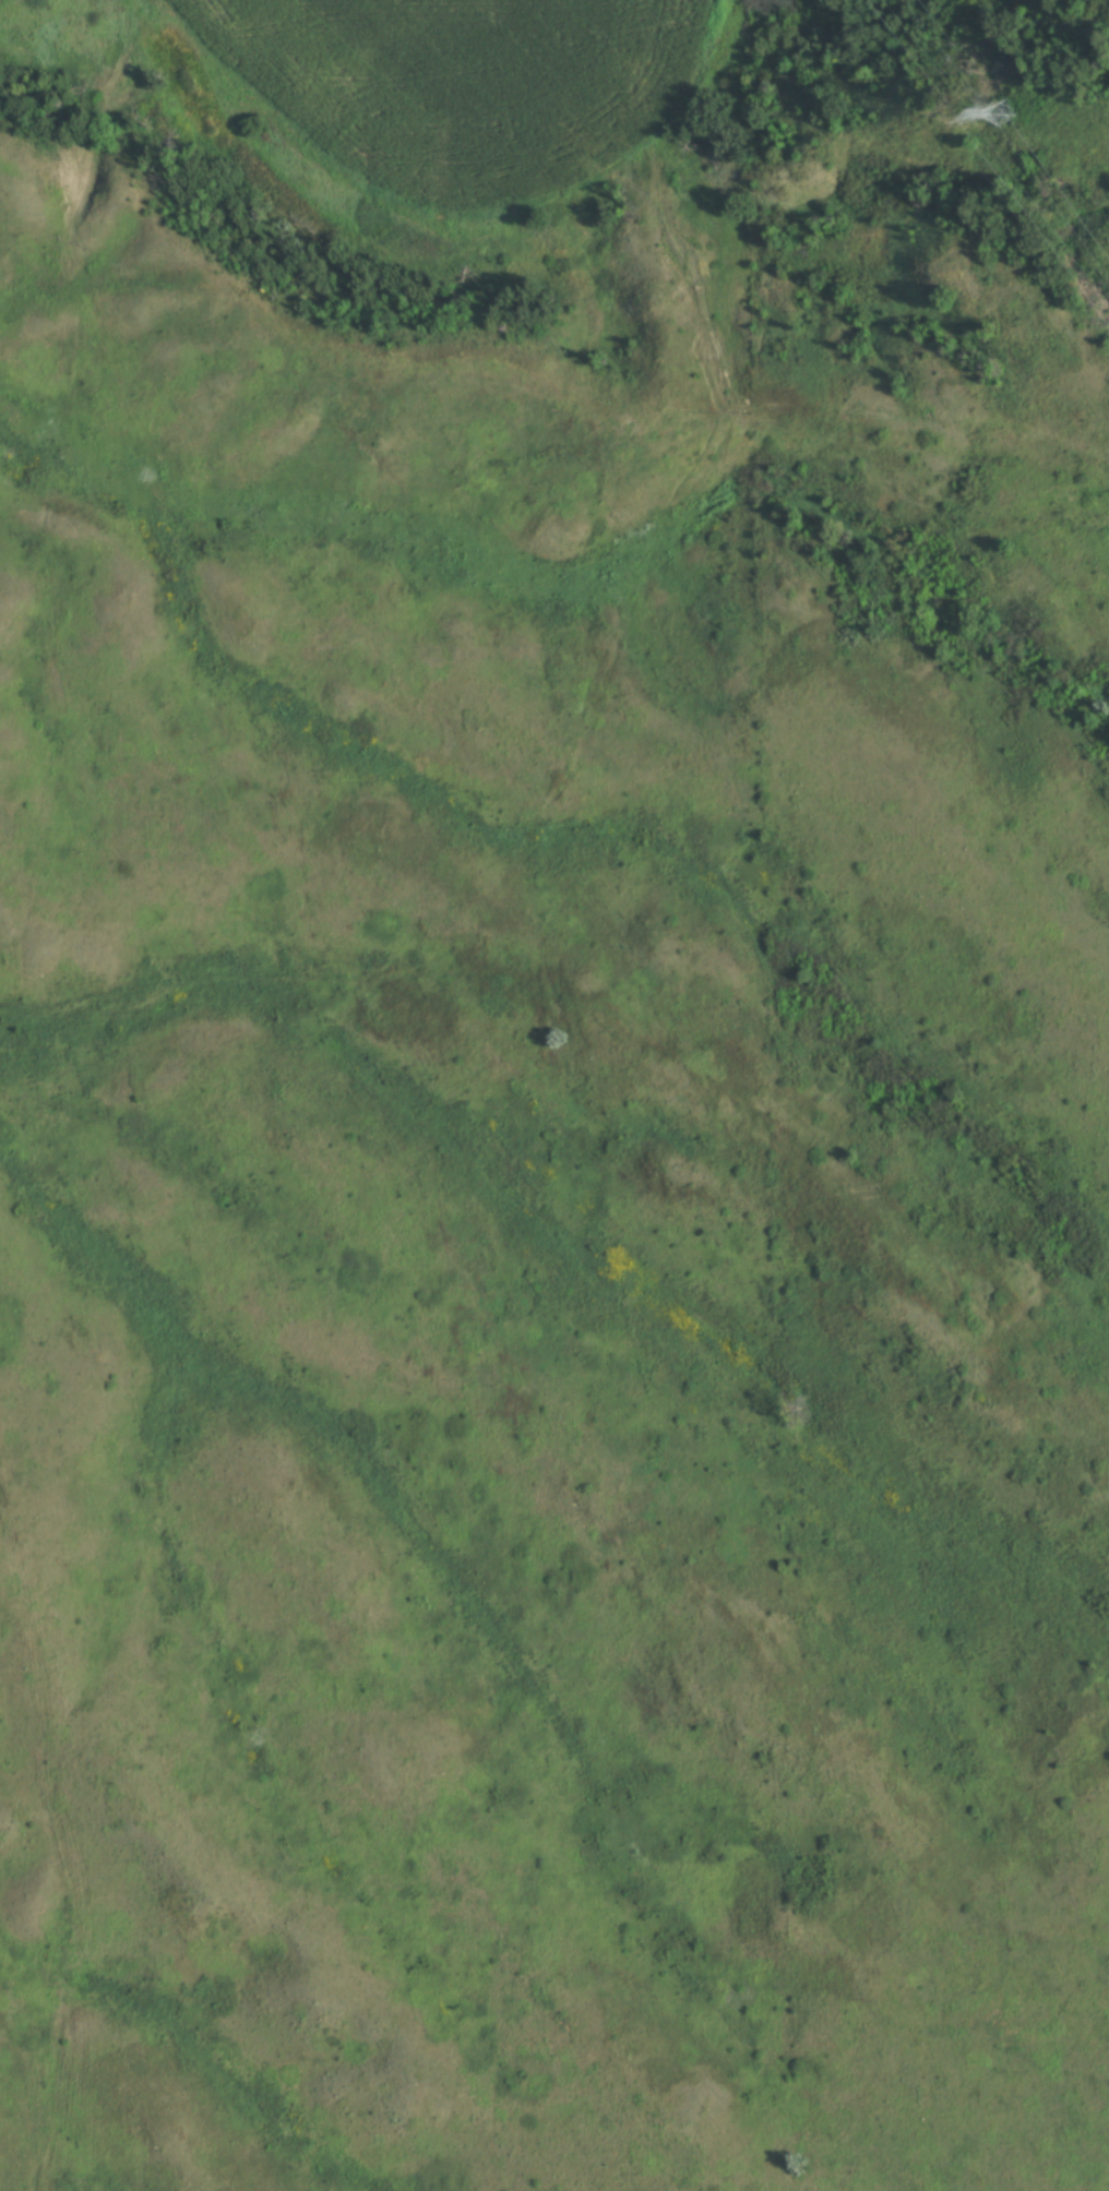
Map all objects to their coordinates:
power tower: (1010, 116)

